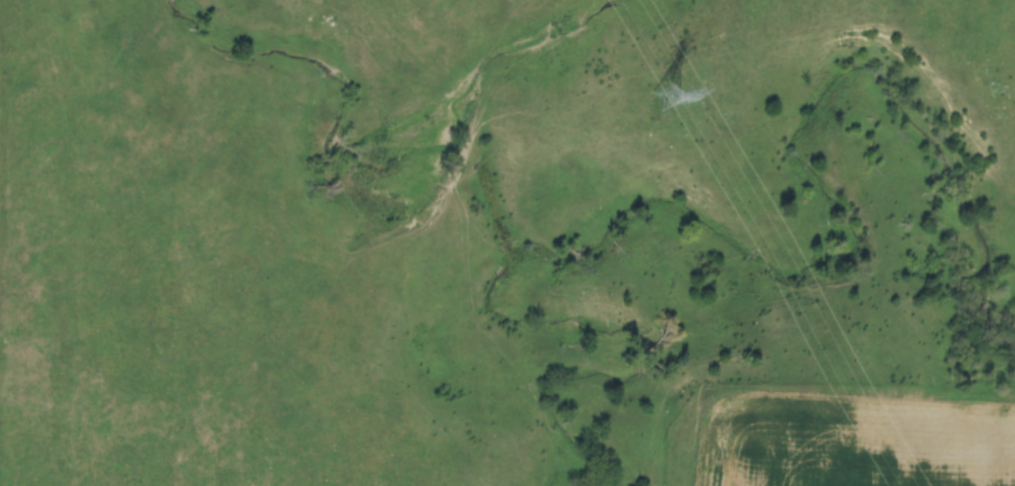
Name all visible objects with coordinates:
power tower: (664, 94)

